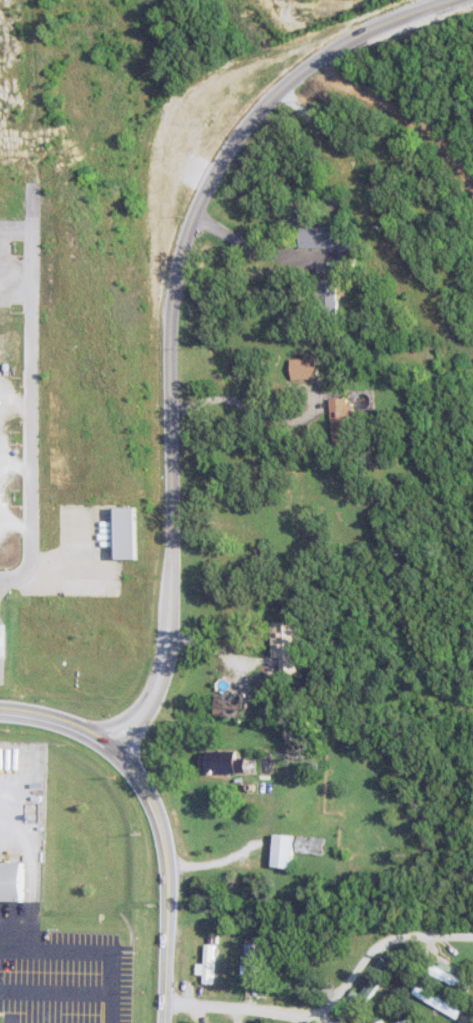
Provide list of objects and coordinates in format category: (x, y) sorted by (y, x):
building: (336, 245)
road: (241, 276)
road: (171, 297)
building: (334, 298)
building: (310, 369)
building: (348, 415)
road: (34, 416)
building: (133, 534)
building: (5, 639)
building: (293, 644)
building: (234, 706)
building: (228, 762)
road: (158, 819)
building: (288, 850)
building: (16, 881)
building: (252, 962)
building: (210, 964)
parking lot: (65, 976)
building: (372, 990)
building: (442, 1001)
road: (335, 1008)
building: (407, 1022)

